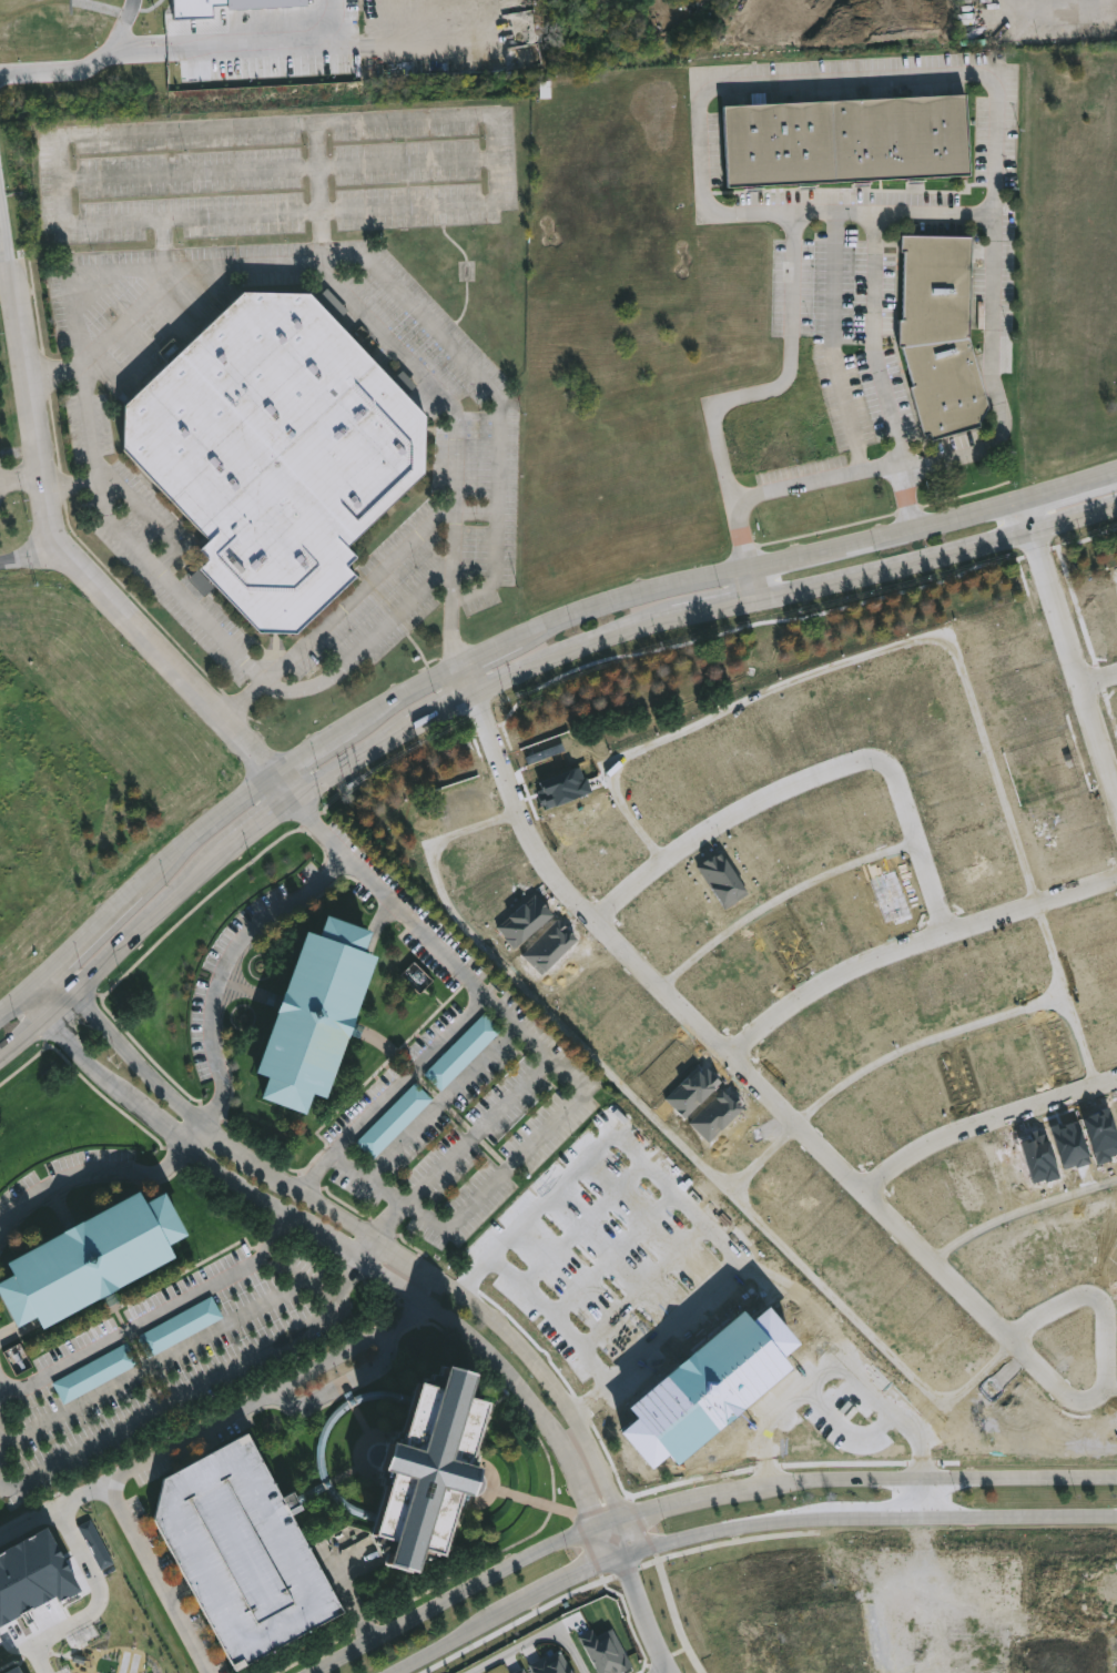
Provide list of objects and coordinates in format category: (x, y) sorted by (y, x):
road: (85, 68)
road: (809, 80)
road: (403, 121)
building: (847, 143)
parking lot: (277, 178)
road: (317, 187)
road: (890, 213)
road: (68, 219)
road: (2, 249)
road: (138, 316)
building: (942, 329)
road: (875, 341)
road: (842, 343)
road: (496, 395)
road: (34, 413)
road: (458, 430)
building: (276, 448)
road: (23, 478)
parking lot: (2, 479)
road: (814, 479)
road: (75, 488)
road: (478, 509)
road: (129, 540)
road: (744, 572)
road: (341, 610)
road: (506, 623)
road: (159, 646)
road: (365, 646)
road: (1068, 647)
road: (857, 658)
road: (464, 668)
road: (506, 670)
road: (1098, 679)
building: (1093, 720)
building: (918, 785)
road: (727, 821)
road: (917, 844)
building: (1077, 883)
road: (779, 901)
road: (911, 947)
building: (418, 979)
building: (313, 1011)
road: (966, 1027)
road: (1082, 1042)
building: (461, 1053)
road: (221, 1087)
road: (393, 1089)
building: (394, 1121)
road: (426, 1122)
road: (983, 1123)
road: (672, 1135)
road: (820, 1149)
road: (764, 1160)
road: (512, 1164)
road: (435, 1173)
road: (386, 1193)
road: (349, 1214)
road: (1020, 1214)
road: (343, 1250)
building: (89, 1258)
road: (302, 1276)
road: (152, 1317)
building: (180, 1327)
road: (328, 1361)
road: (154, 1365)
building: (95, 1373)
building: (707, 1387)
road: (1111, 1390)
road: (180, 1440)
building: (318, 1453)
building: (423, 1464)
road: (3, 1487)
road: (925, 1497)
road: (698, 1500)
road: (30, 1524)
road: (739, 1529)
building: (241, 1550)
parking garage: (241, 1550)
road: (97, 1574)
building: (32, 1576)
road: (175, 1589)
road: (351, 1595)
road: (642, 1599)
road: (672, 1613)
road: (511, 1625)
road: (541, 1642)
building: (549, 1663)
building: (10, 1669)
building: (518, 1671)
road: (674, 1672)

